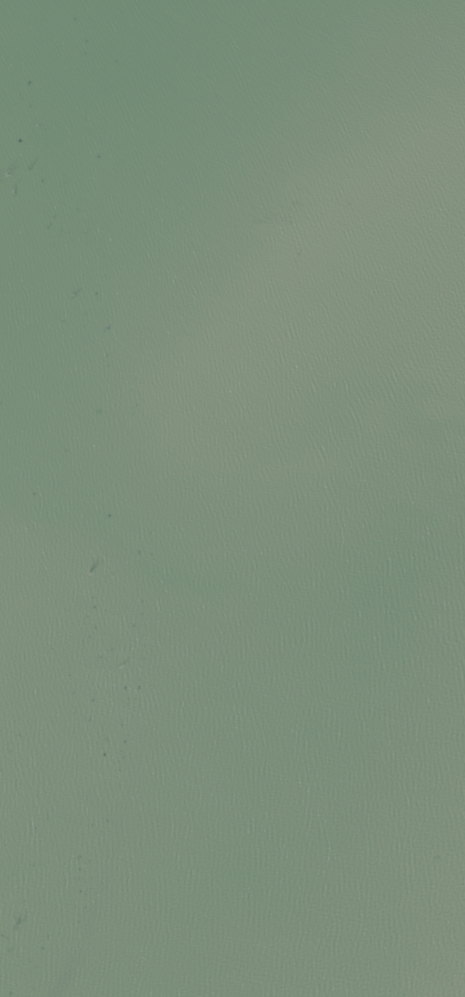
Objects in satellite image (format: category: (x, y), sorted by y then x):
river: (178, 255)

